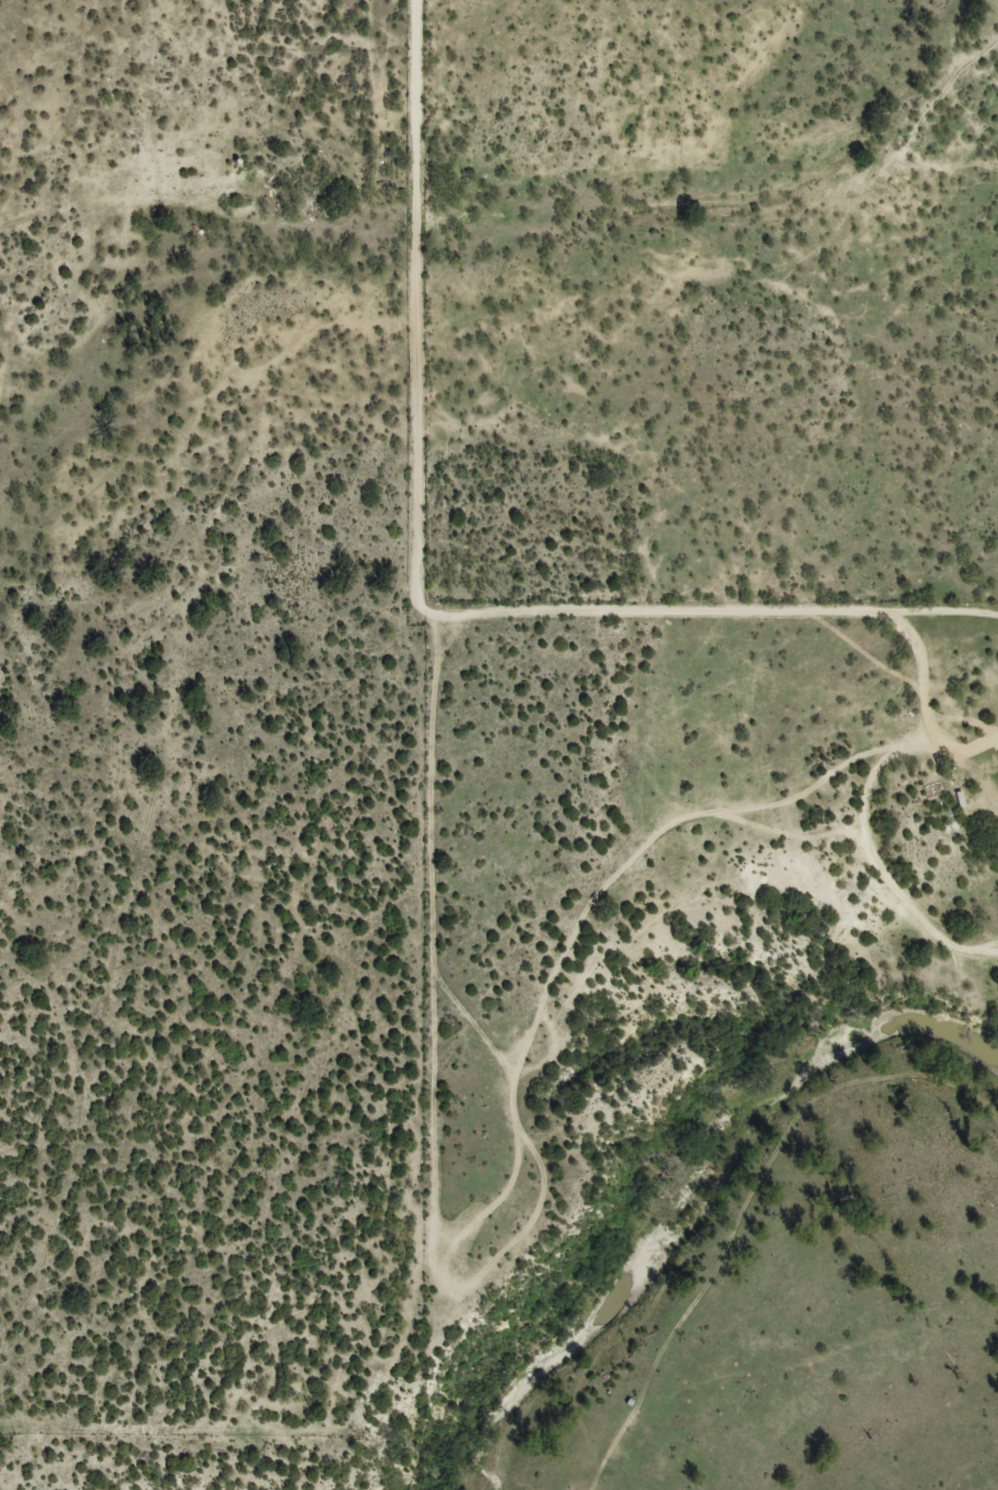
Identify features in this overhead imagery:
road: (131, 101)
road: (138, 456)
road: (462, 613)
road: (223, 683)
road: (420, 716)
road: (766, 804)
road: (630, 850)

